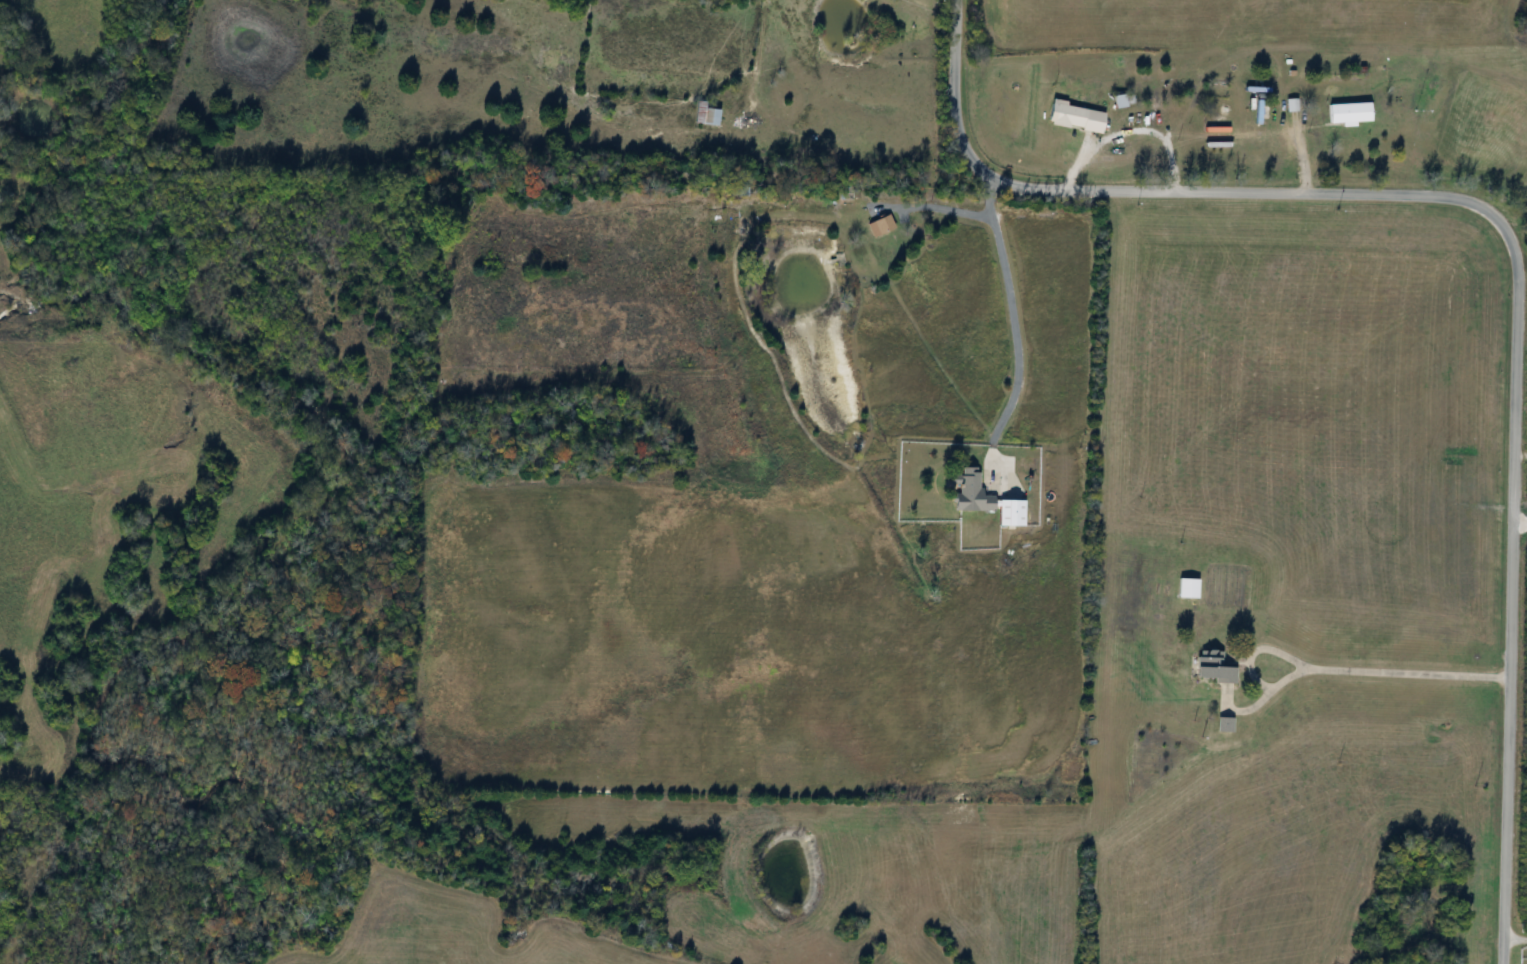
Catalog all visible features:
building: (1346, 112)
building: (703, 115)
building: (1072, 117)
road: (941, 206)
building: (877, 226)
road: (1509, 238)
road: (1016, 320)
building: (968, 491)
building: (1184, 588)
road: (1245, 652)
building: (1208, 666)
road: (1359, 674)
road: (1514, 941)

